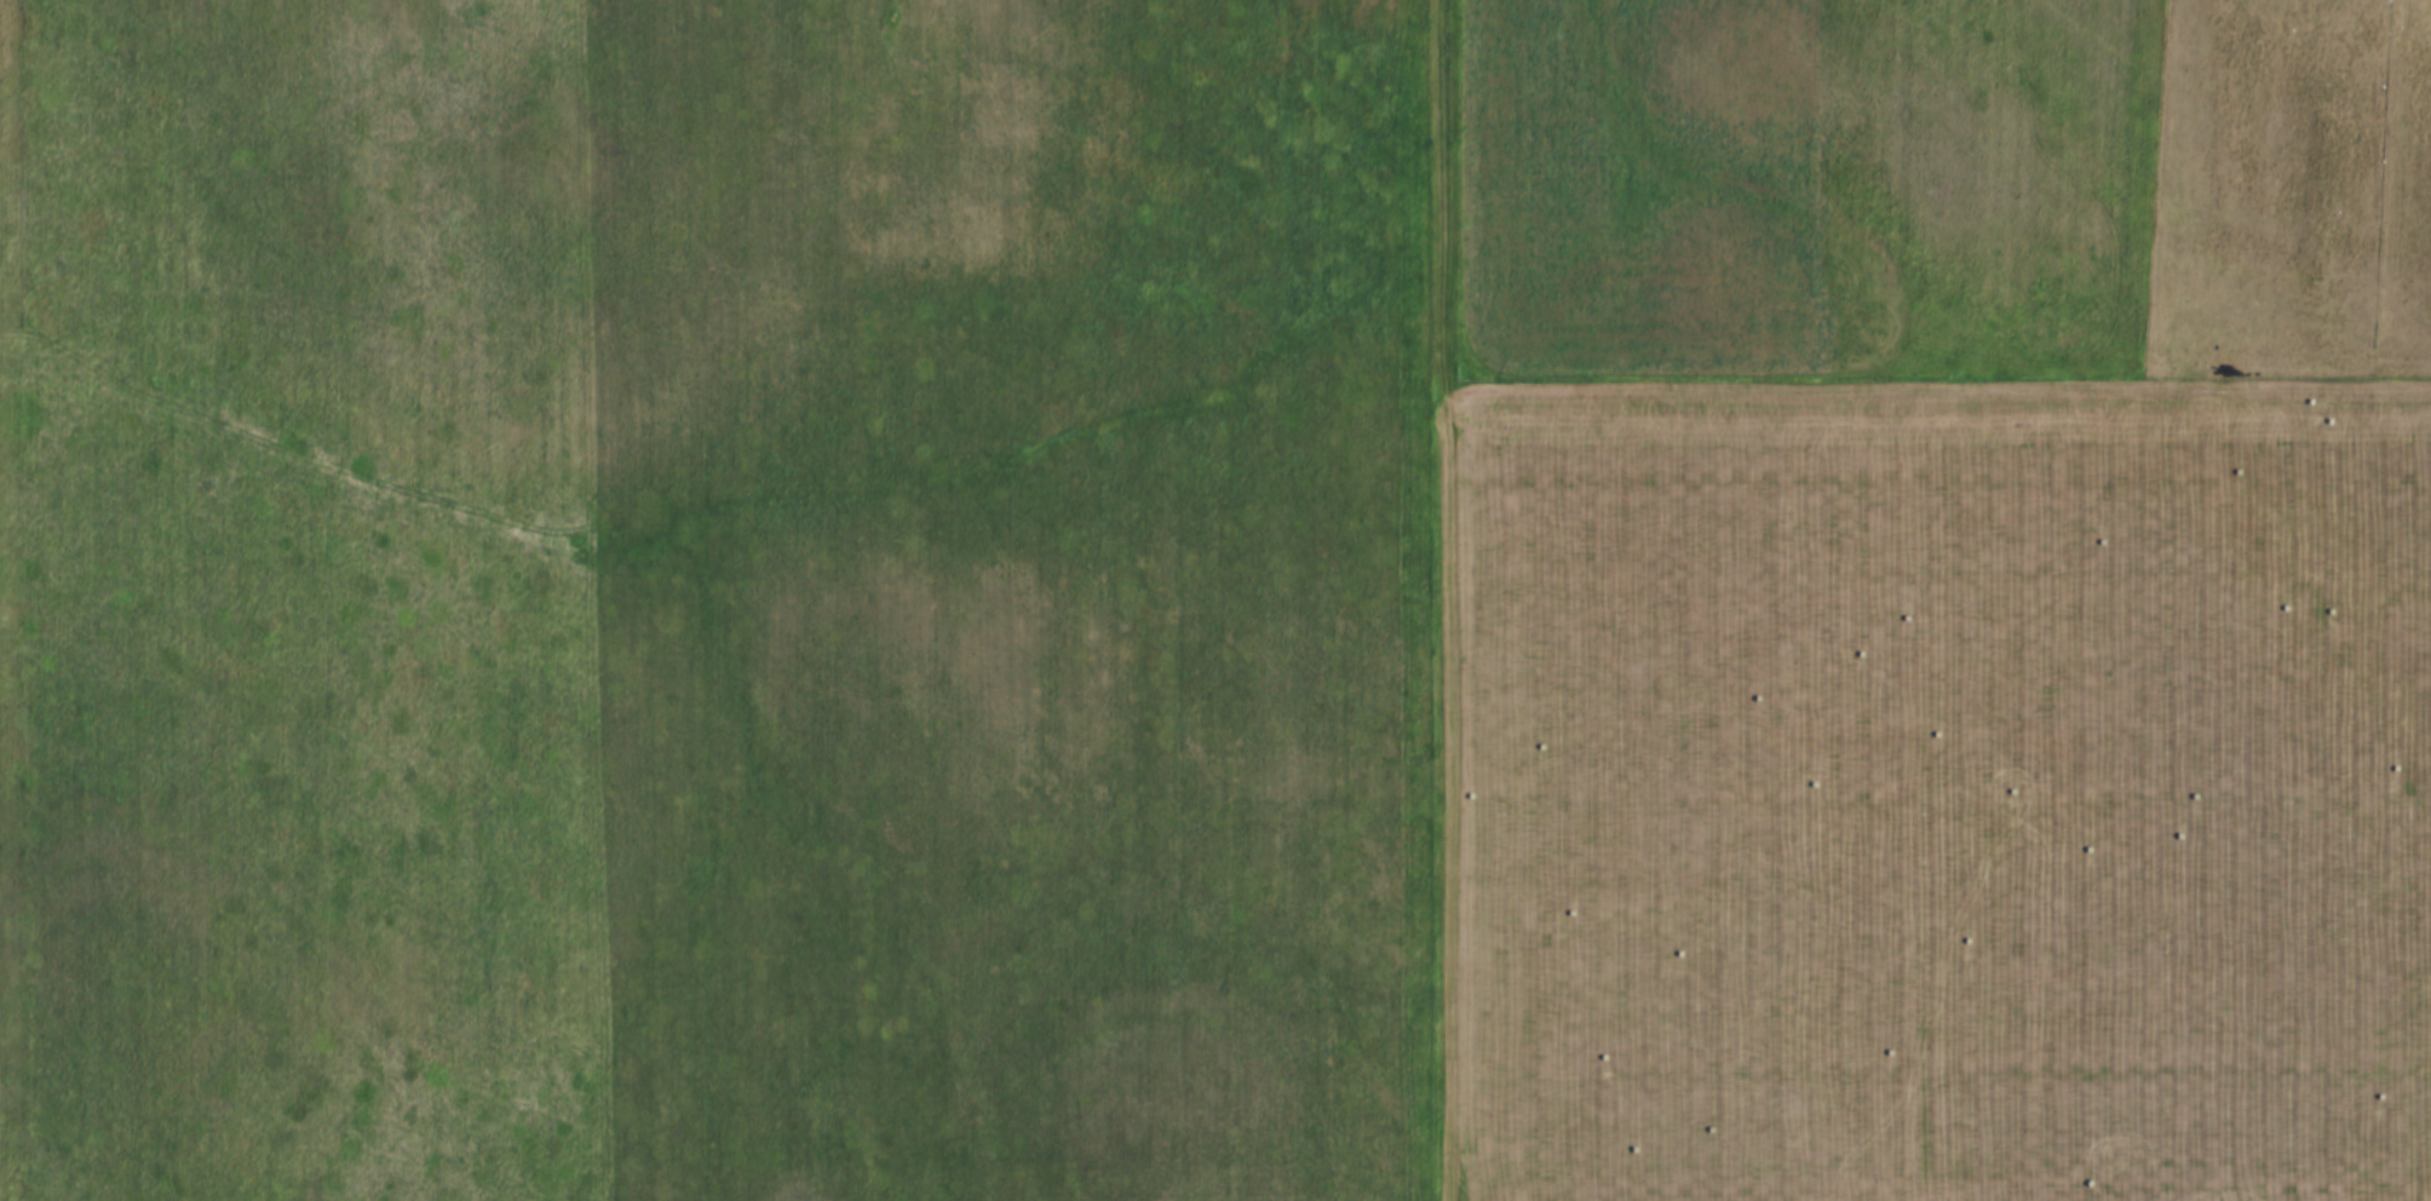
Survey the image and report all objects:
road: (1449, 599)

